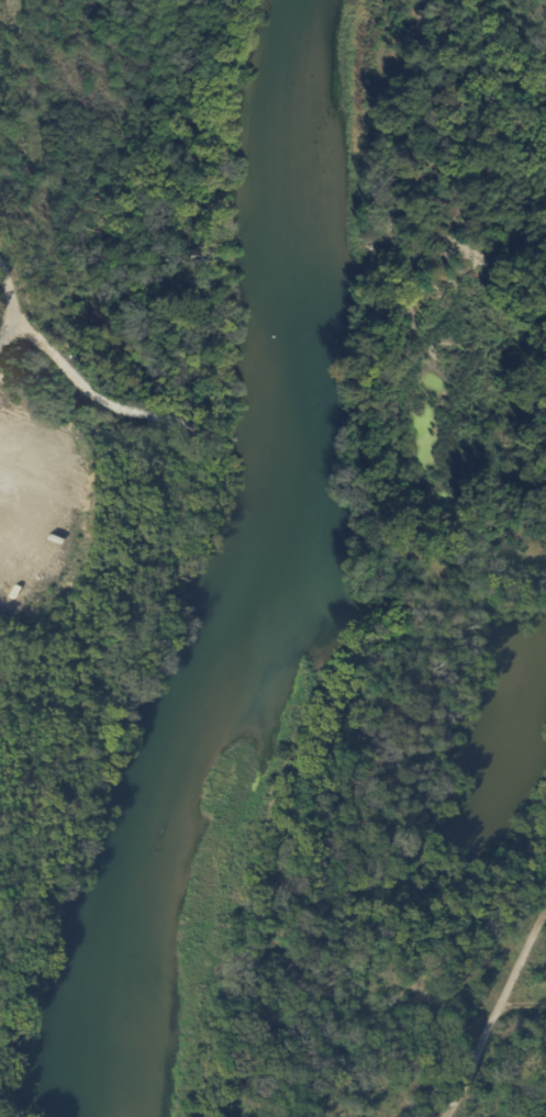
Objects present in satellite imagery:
river: (254, 563)
road: (495, 1014)

